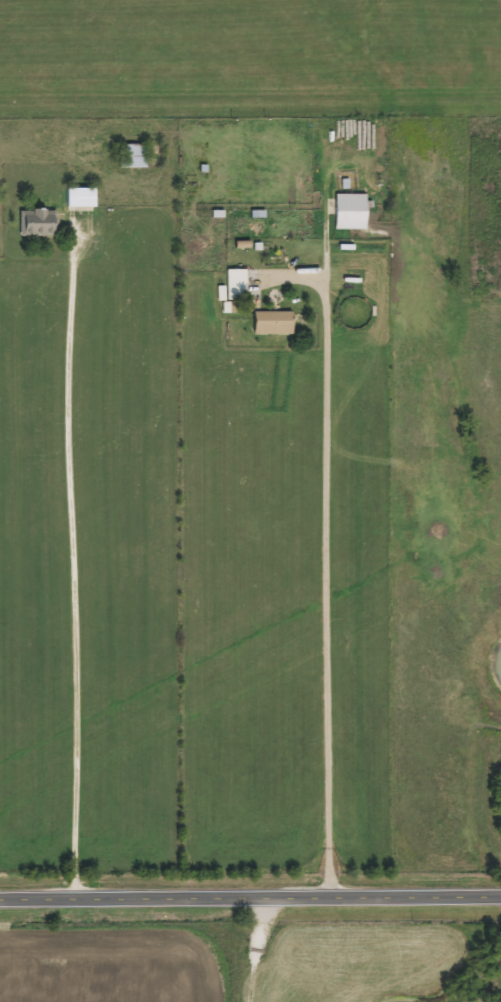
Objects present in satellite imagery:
building: (130, 156)
building: (77, 199)
building: (347, 212)
building: (35, 223)
building: (233, 285)
building: (270, 323)
road: (71, 561)
road: (324, 574)
road: (250, 893)
road: (255, 947)

